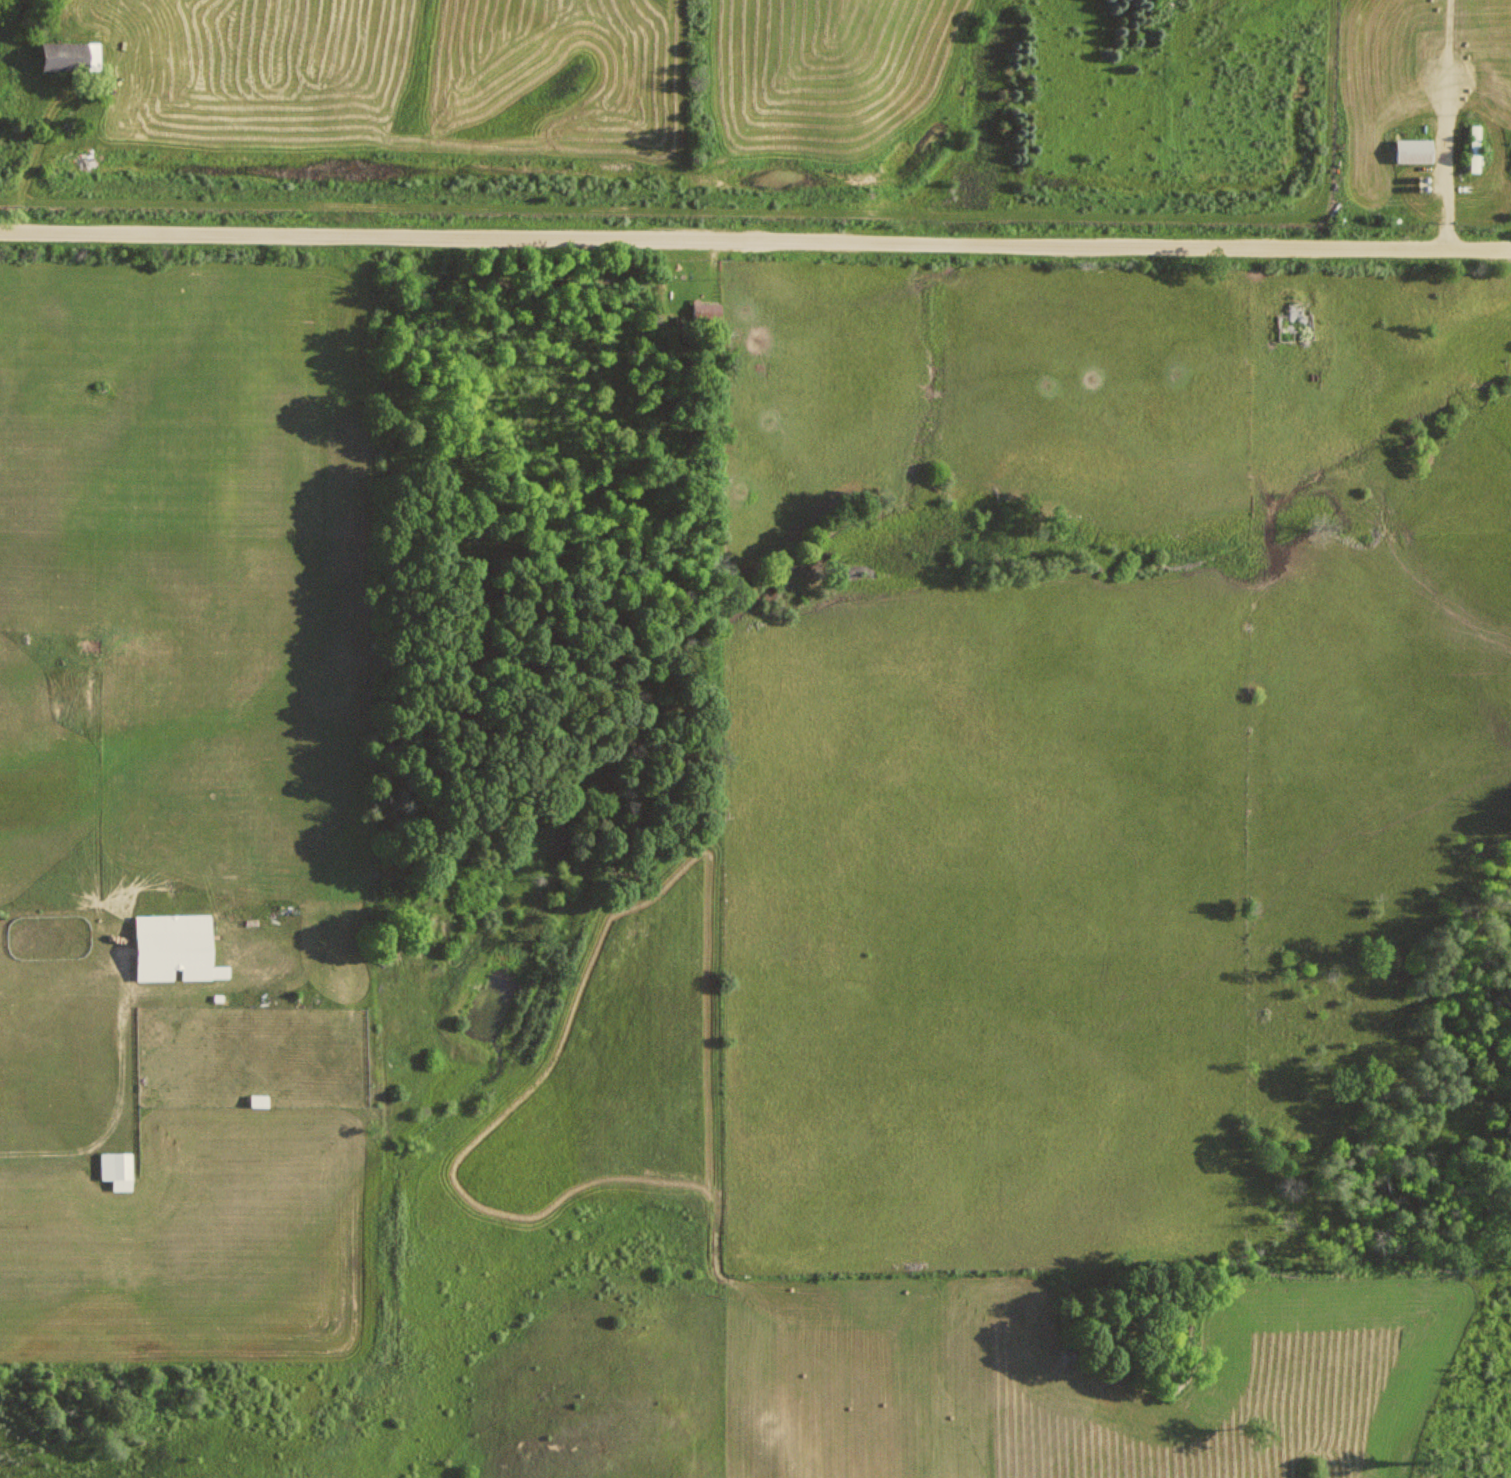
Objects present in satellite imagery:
building: (74, 57)
building: (1474, 149)
building: (1409, 152)
road: (755, 223)
building: (708, 313)
building: (96, 644)
building: (178, 947)
building: (263, 1101)
building: (121, 1170)

